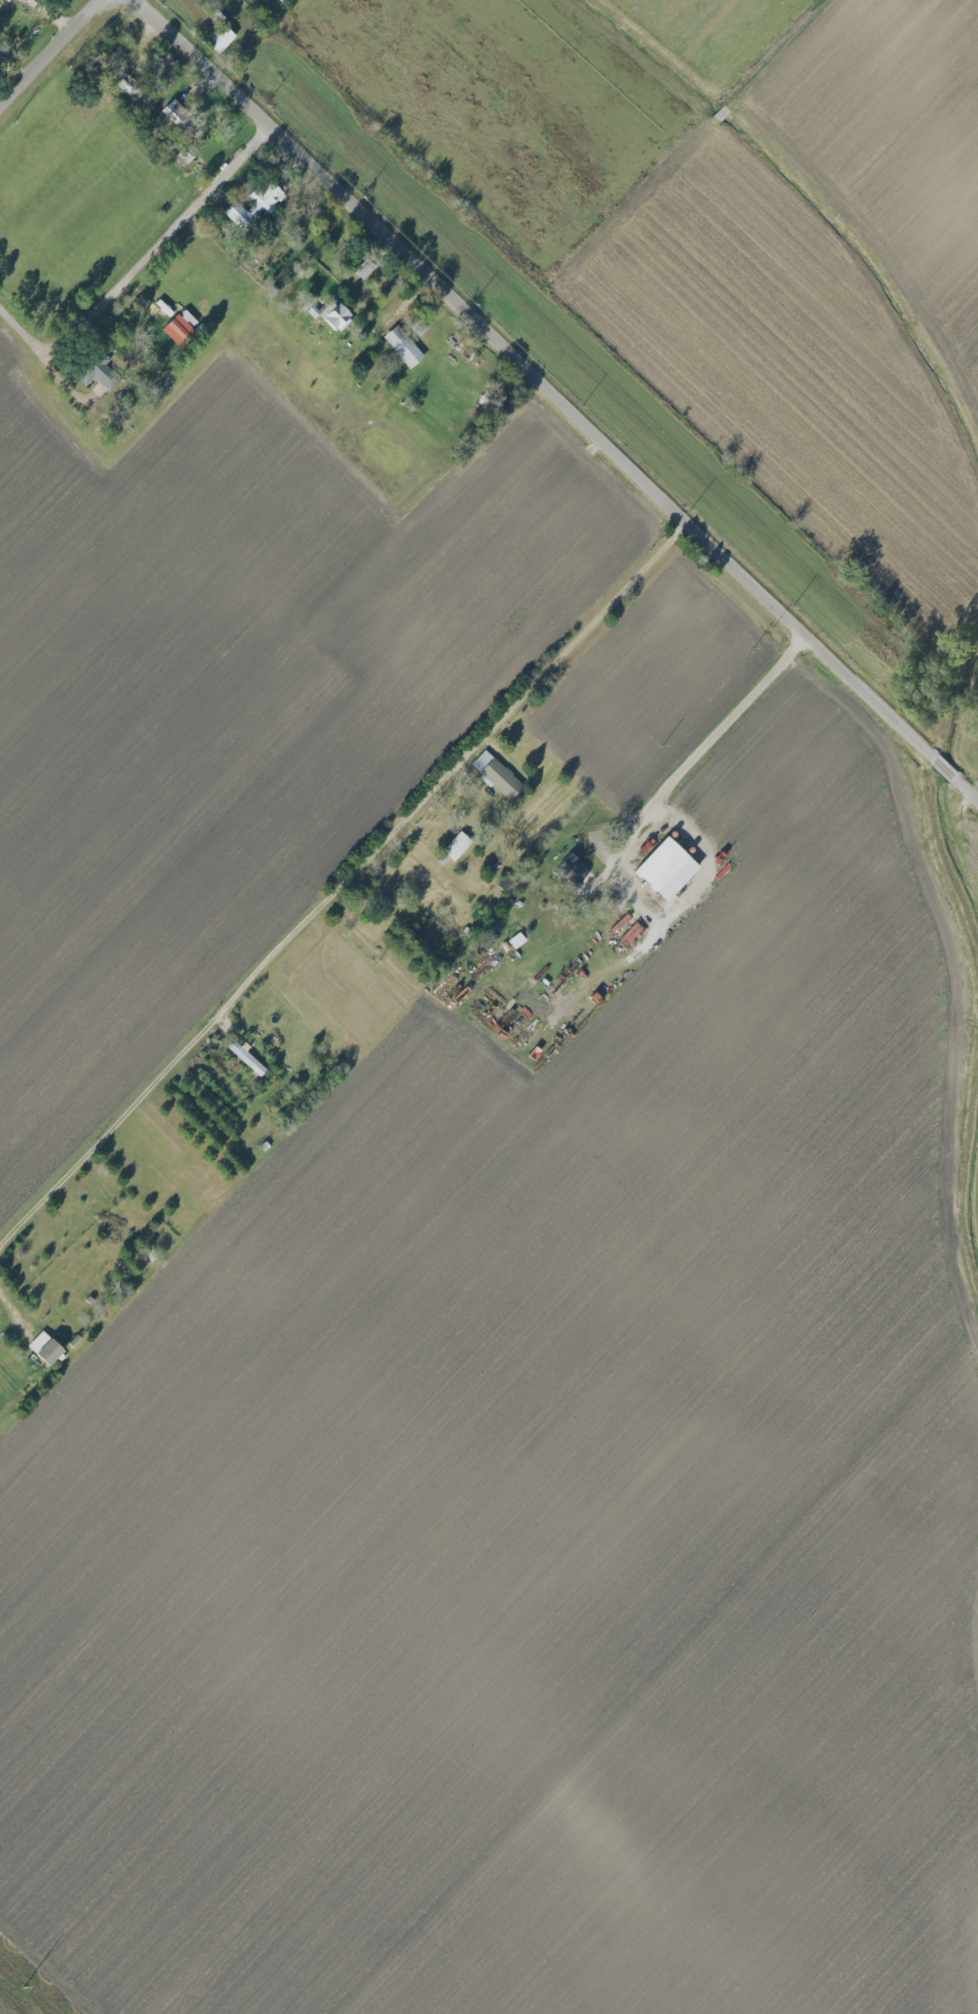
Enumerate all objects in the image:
building: (221, 39)
road: (49, 53)
building: (256, 205)
road: (142, 261)
building: (336, 316)
building: (178, 329)
building: (404, 346)
building: (100, 372)
road: (561, 396)
road: (408, 619)
building: (497, 774)
road: (633, 823)
building: (457, 845)
building: (574, 868)
building: (668, 868)
road: (343, 881)
building: (631, 933)
building: (247, 1058)
road: (15, 1311)
building: (45, 1348)

